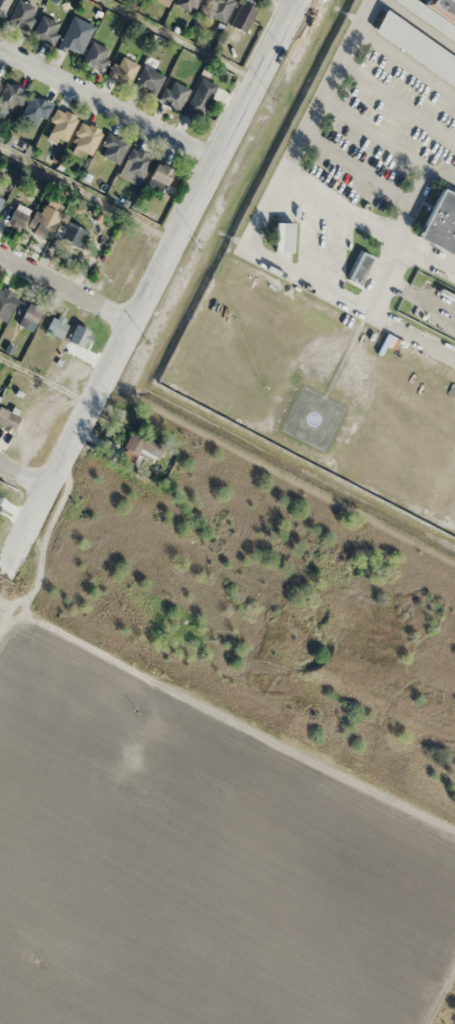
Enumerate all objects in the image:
building: (162, 1)
road: (298, 1)
building: (186, 4)
building: (3, 5)
building: (218, 8)
building: (20, 14)
building: (242, 17)
building: (45, 30)
building: (75, 34)
building: (415, 46)
building: (95, 55)
building: (121, 70)
building: (147, 80)
building: (173, 94)
building: (10, 99)
building: (198, 99)
road: (109, 106)
building: (34, 109)
building: (60, 125)
building: (85, 138)
building: (112, 148)
building: (136, 163)
building: (157, 176)
building: (0, 199)
building: (15, 218)
building: (440, 224)
building: (55, 228)
building: (282, 237)
building: (358, 266)
road: (69, 287)
road: (154, 292)
building: (5, 302)
building: (29, 315)
building: (55, 325)
building: (7, 419)
building: (140, 446)
road: (25, 473)

